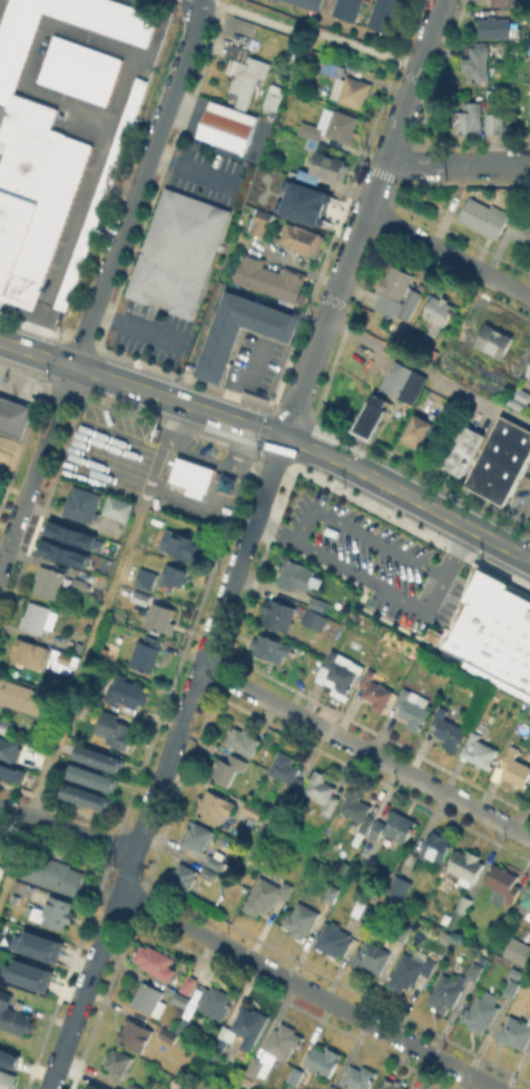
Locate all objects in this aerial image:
building: (504, 1)
park: (167, 2)
road: (192, 2)
road: (197, 2)
building: (310, 3)
building: (347, 9)
building: (384, 14)
building: (494, 26)
road: (306, 32)
road: (429, 33)
building: (477, 62)
building: (80, 67)
building: (529, 70)
building: (239, 71)
road: (126, 79)
building: (347, 85)
building: (268, 94)
road: (400, 114)
building: (470, 116)
building: (495, 121)
building: (332, 125)
building: (226, 128)
building: (43, 145)
road: (457, 164)
building: (328, 165)
road: (194, 166)
road: (137, 186)
building: (102, 192)
building: (268, 200)
building: (307, 200)
building: (485, 216)
building: (259, 221)
building: (522, 224)
building: (302, 237)
road: (354, 241)
road: (448, 254)
building: (180, 255)
building: (271, 281)
building: (392, 289)
building: (411, 308)
building: (439, 309)
road: (139, 324)
building: (281, 337)
building: (494, 339)
building: (457, 346)
building: (469, 358)
building: (529, 371)
road: (428, 372)
road: (236, 377)
building: (403, 379)
building: (504, 391)
building: (523, 397)
building: (11, 416)
building: (373, 416)
building: (420, 431)
road: (272, 432)
building: (467, 453)
building: (502, 466)
road: (36, 467)
building: (193, 476)
building: (82, 504)
building: (118, 506)
road: (274, 527)
road: (362, 532)
building: (71, 535)
building: (183, 544)
road: (122, 547)
road: (457, 551)
building: (61, 552)
parking lot: (374, 557)
building: (147, 574)
building: (174, 574)
building: (85, 580)
building: (295, 580)
building: (48, 581)
road: (375, 582)
building: (141, 596)
building: (321, 605)
building: (278, 613)
building: (159, 615)
building: (36, 616)
building: (315, 620)
building: (494, 633)
building: (271, 646)
building: (146, 652)
building: (26, 655)
building: (426, 655)
building: (66, 657)
building: (340, 671)
building: (126, 690)
building: (375, 690)
building: (21, 699)
road: (187, 706)
building: (413, 707)
building: (4, 725)
building: (448, 728)
building: (115, 732)
building: (244, 739)
building: (9, 749)
building: (479, 750)
road: (365, 751)
building: (97, 764)
building: (227, 767)
building: (516, 768)
building: (285, 770)
building: (11, 772)
building: (91, 782)
building: (322, 789)
building: (85, 801)
building: (268, 801)
building: (215, 806)
building: (253, 808)
building: (357, 811)
building: (399, 825)
road: (67, 828)
building: (284, 833)
building: (198, 836)
building: (436, 845)
building: (467, 863)
building: (346, 866)
building: (212, 868)
building: (1, 872)
building: (55, 875)
building: (184, 877)
building: (503, 884)
building: (400, 886)
building: (332, 893)
building: (267, 896)
building: (527, 897)
building: (365, 911)
building: (460, 911)
building: (55, 913)
building: (301, 921)
building: (403, 933)
building: (335, 940)
building: (37, 946)
building: (519, 951)
building: (372, 956)
building: (155, 961)
building: (411, 970)
building: (474, 970)
building: (24, 980)
building: (189, 984)
building: (511, 988)
road: (306, 991)
building: (448, 992)
building: (149, 999)
building: (181, 1000)
building: (214, 1003)
building: (481, 1012)
building: (14, 1017)
building: (181, 1025)
building: (242, 1030)
building: (514, 1032)
building: (135, 1034)
building: (165, 1034)
building: (275, 1051)
building: (10, 1056)
building: (529, 1059)
building: (118, 1062)
building: (315, 1066)
building: (360, 1077)
building: (7, 1079)
building: (392, 1083)
building: (134, 1085)
building: (86, 1087)
building: (380, 1087)
building: (98, 1088)
building: (332, 1088)

